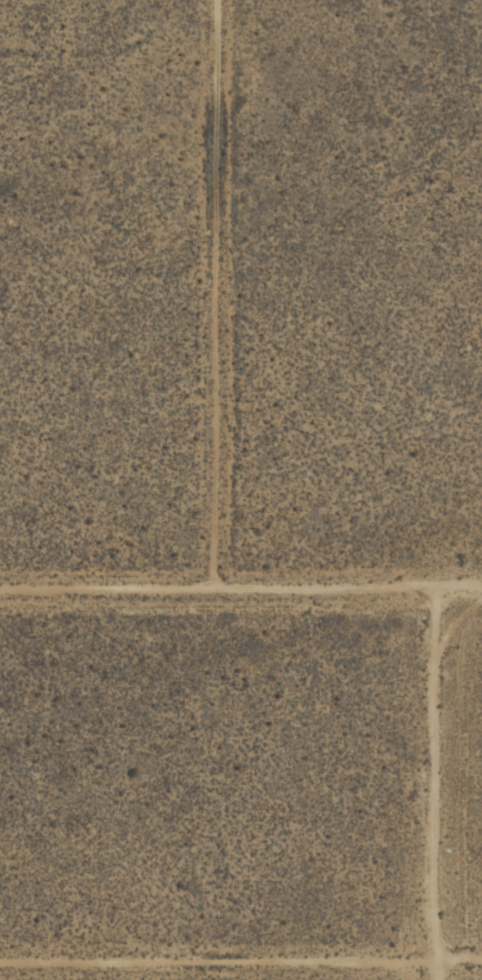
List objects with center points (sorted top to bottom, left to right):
road: (240, 592)
road: (450, 786)
road: (241, 955)

